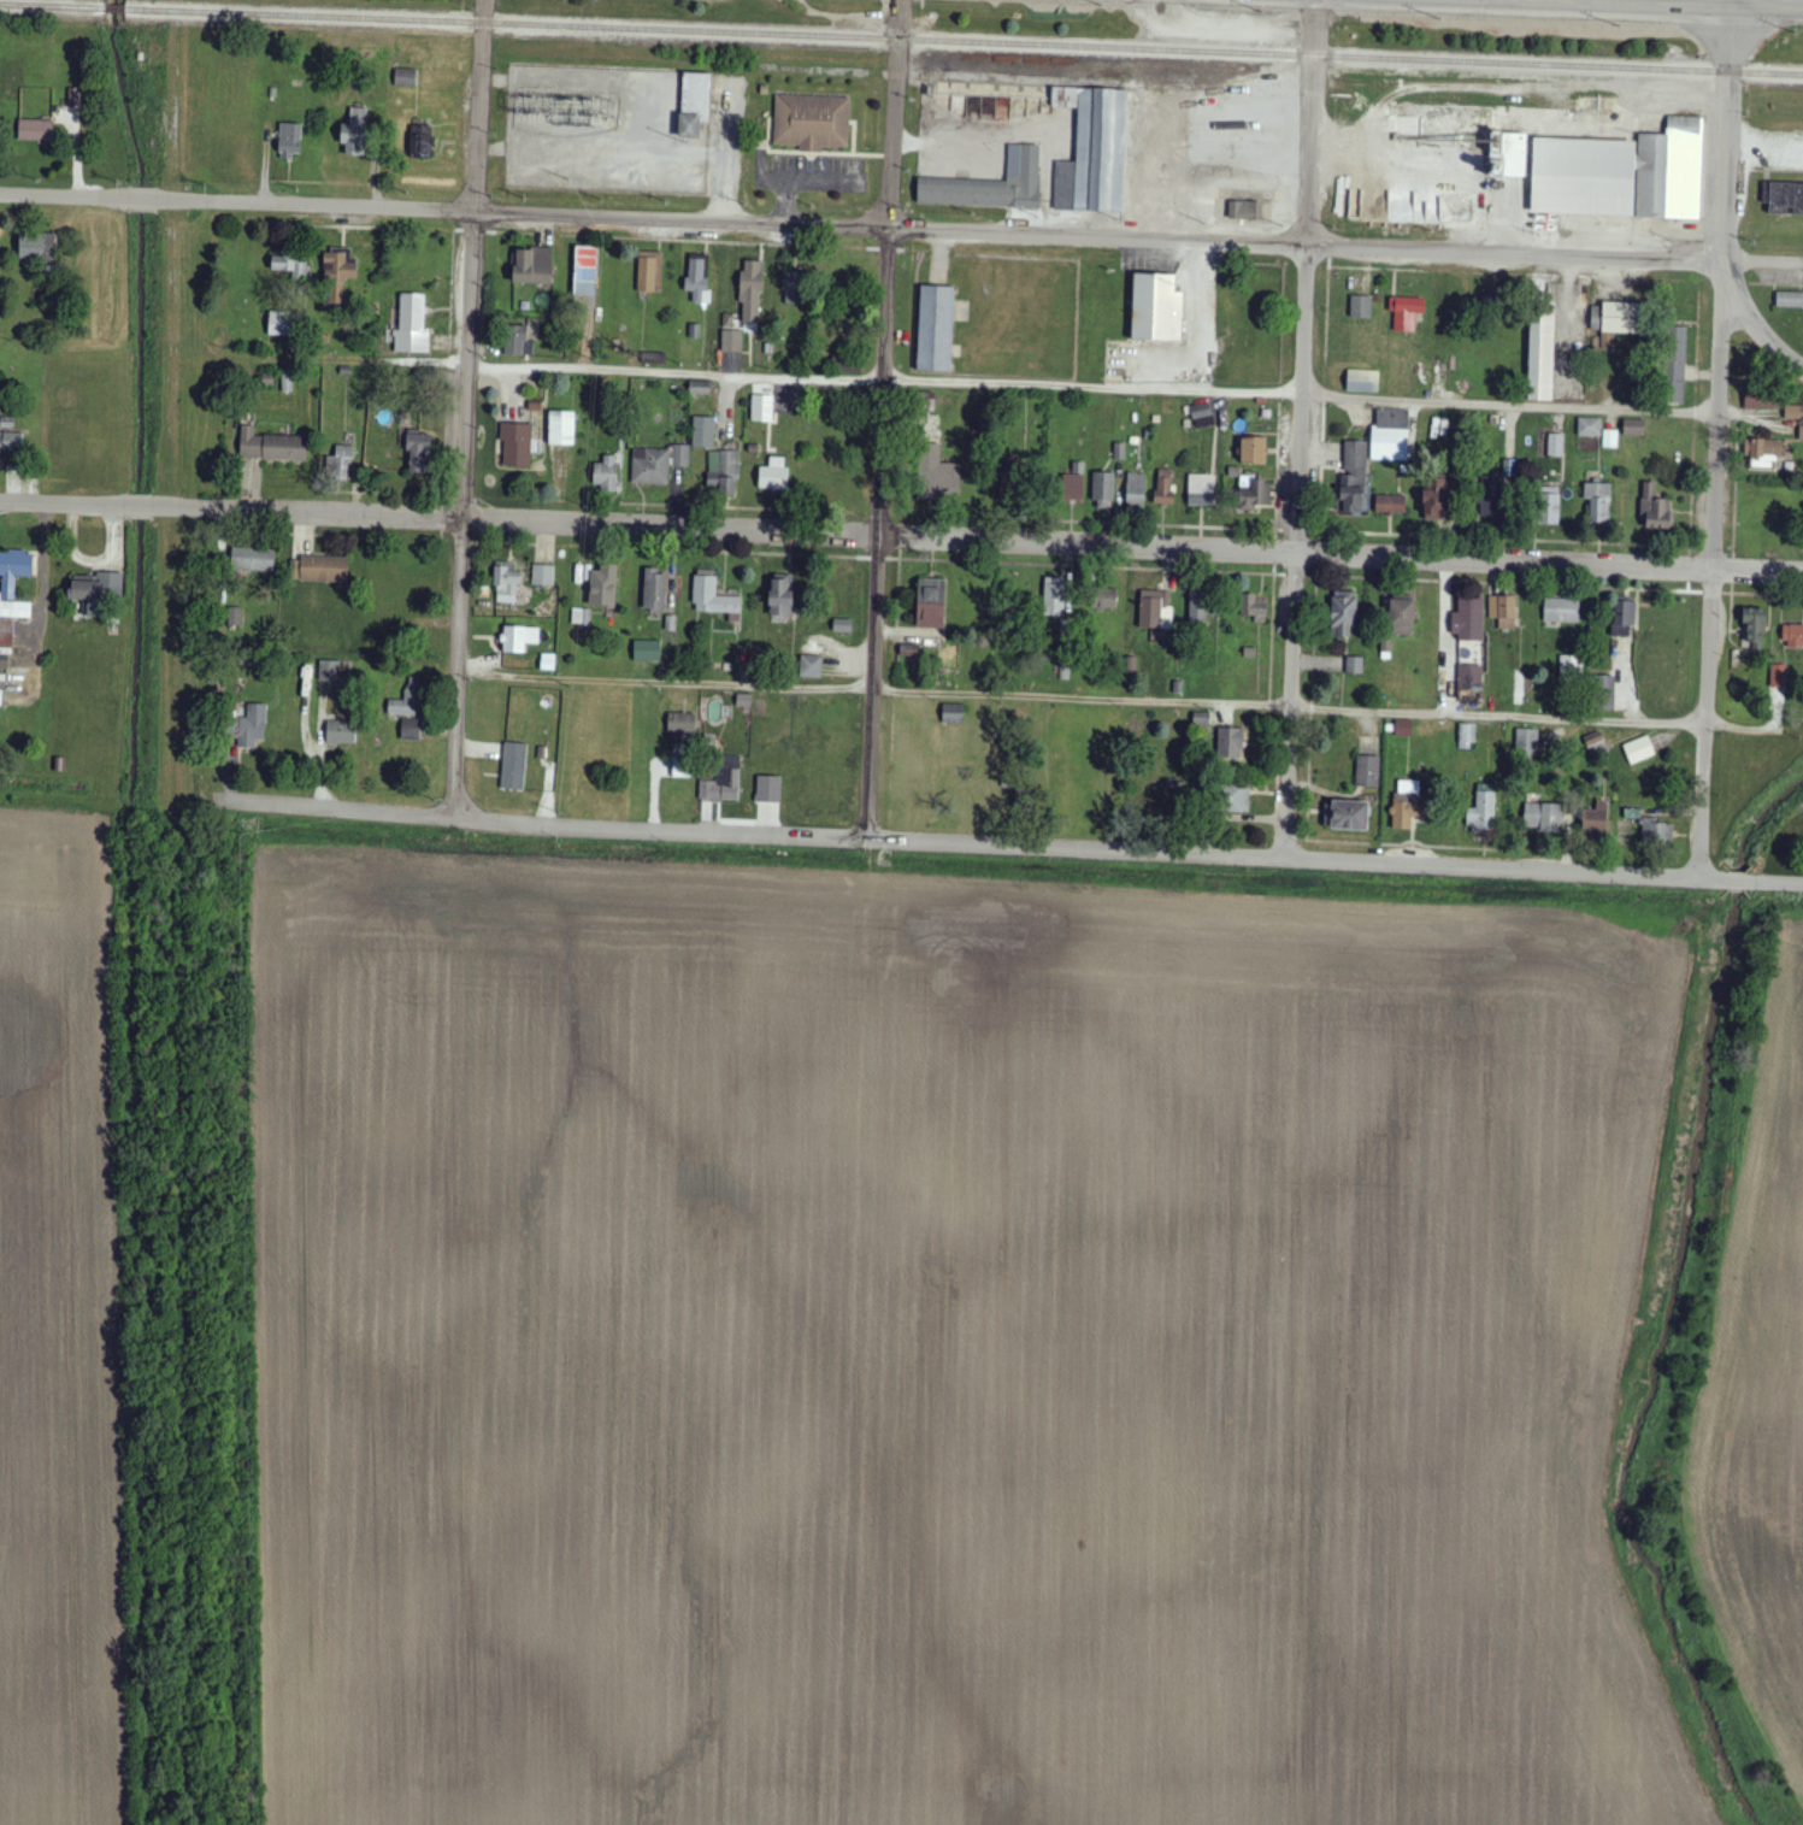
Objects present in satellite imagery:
railway: (52, 5)
road: (1721, 5)
road: (1637, 6)
railway: (114, 7)
railway: (964, 42)
building: (405, 77)
railway: (1097, 81)
building: (694, 104)
building: (992, 106)
building: (811, 120)
power substation: (608, 129)
building: (35, 130)
building: (355, 134)
road: (853, 136)
building: (1416, 139)
building: (289, 140)
building: (419, 141)
building: (1489, 141)
building: (1092, 152)
road: (825, 154)
parking lot: (818, 172)
building: (1607, 172)
building: (992, 183)
road: (64, 194)
building: (1785, 198)
road: (143, 199)
road: (313, 204)
building: (1391, 205)
building: (1245, 211)
road: (348, 226)
road: (1090, 234)
road: (653, 239)
building: (36, 247)
road: (862, 248)
road: (938, 257)
parking lot: (1148, 259)
road: (1758, 263)
building: (290, 265)
building: (532, 266)
road: (1330, 267)
building: (585, 271)
building: (647, 271)
building: (337, 275)
road: (1518, 275)
building: (697, 281)
road: (452, 288)
building: (791, 288)
building: (752, 289)
building: (1790, 299)
building: (1155, 307)
building: (1360, 307)
building: (1404, 312)
road: (1200, 316)
road: (1752, 318)
building: (279, 323)
building: (412, 325)
building: (935, 329)
building: (532, 330)
building: (517, 341)
building: (731, 341)
building: (1619, 348)
building: (1540, 351)
building: (1674, 364)
building: (1419, 366)
building: (1362, 381)
road: (1089, 384)
building: (1763, 398)
road: (461, 407)
building: (762, 408)
building: (1793, 412)
building: (1209, 414)
road: (879, 418)
building: (561, 428)
road: (1297, 428)
building: (1589, 428)
building: (1633, 428)
building: (1801, 431)
building: (703, 432)
building: (1390, 435)
road: (1715, 442)
building: (11, 443)
building: (517, 445)
building: (271, 446)
building: (1556, 446)
building: (1254, 451)
building: (1762, 452)
building: (418, 453)
building: (680, 455)
building: (338, 464)
building: (650, 466)
road: (1277, 469)
building: (723, 472)
building: (606, 473)
building: (773, 475)
building: (936, 475)
building: (1354, 478)
road: (1736, 484)
building: (1163, 487)
building: (1072, 488)
building: (1103, 490)
building: (1201, 490)
building: (1135, 491)
building: (1255, 493)
road: (61, 498)
road: (139, 500)
building: (1437, 501)
building: (1598, 502)
building: (1391, 505)
road: (706, 506)
building: (1549, 506)
road: (306, 508)
building: (1656, 508)
road: (1135, 524)
road: (1296, 530)
road: (1315, 530)
road: (1319, 532)
road: (441, 534)
road: (1275, 534)
road: (305, 535)
road: (1131, 540)
road: (1568, 542)
road: (1695, 548)
road: (1711, 548)
road: (1733, 549)
road: (1274, 551)
road: (1318, 551)
road: (1690, 552)
road: (799, 554)
road: (898, 559)
building: (253, 560)
road: (1054, 565)
road: (1689, 569)
building: (319, 570)
road: (1733, 570)
road: (1316, 572)
road: (1274, 573)
building: (542, 576)
road: (1294, 576)
road: (1310, 577)
building: (506, 582)
road: (1507, 584)
building: (602, 587)
building: (654, 590)
road: (1693, 591)
building: (12, 593)
road: (1711, 593)
road: (1732, 593)
road: (1767, 595)
building: (1054, 596)
building: (714, 597)
building: (780, 597)
building: (1103, 597)
building: (931, 604)
building: (1197, 607)
building: (1255, 608)
building: (1155, 610)
building: (1503, 611)
building: (1561, 611)
building: (1343, 614)
building: (1402, 616)
road: (1731, 616)
building: (235, 617)
building: (1622, 618)
building: (1469, 619)
building: (1754, 629)
building: (1793, 637)
building: (518, 638)
building: (908, 650)
building: (646, 652)
building: (4, 659)
building: (1354, 665)
building: (1571, 666)
building: (811, 667)
building: (329, 671)
road: (1271, 682)
building: (1469, 682)
building: (1778, 682)
road: (1083, 694)
building: (1604, 694)
building: (406, 705)
building: (951, 713)
building: (680, 722)
building: (247, 726)
building: (340, 730)
building: (411, 730)
building: (1467, 736)
road: (1310, 738)
building: (1526, 742)
building: (1231, 743)
building: (1639, 750)
building: (679, 765)
building: (513, 766)
building: (1367, 772)
building: (723, 782)
building: (1235, 799)
building: (1409, 805)
road: (336, 807)
building: (1483, 811)
building: (1349, 816)
building: (1543, 817)
building: (1596, 820)
building: (1656, 831)
road: (1432, 846)
road: (1090, 848)
road: (1744, 878)
road: (1783, 879)
crop: (1760, 1397)

